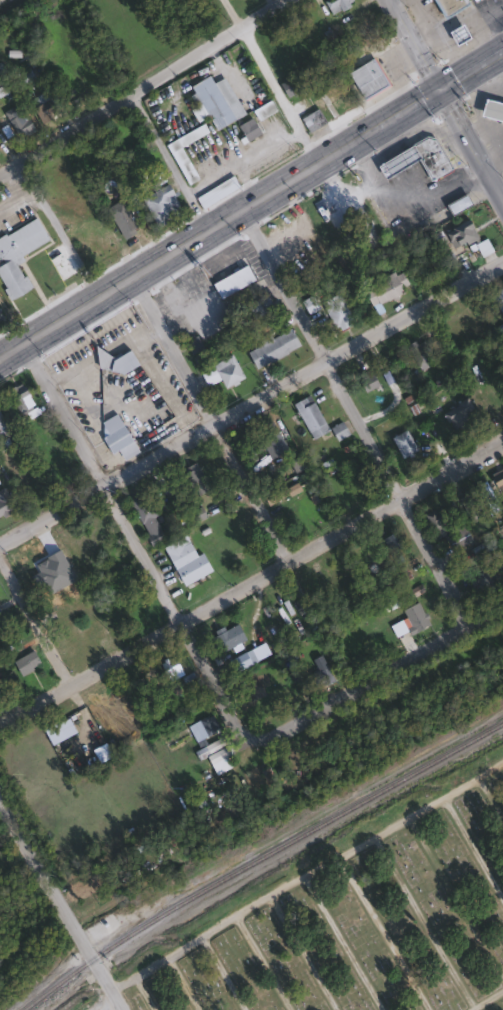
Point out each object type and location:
building: (470, 0)
park: (5, 3)
building: (336, 5)
building: (448, 5)
road: (414, 43)
building: (364, 78)
road: (270, 80)
building: (293, 82)
road: (141, 87)
building: (214, 100)
building: (41, 106)
building: (262, 109)
building: (491, 110)
building: (311, 119)
building: (19, 124)
building: (247, 128)
road: (471, 143)
building: (418, 157)
road: (168, 162)
building: (180, 162)
building: (215, 190)
road: (339, 193)
road: (405, 200)
road: (251, 201)
building: (456, 203)
building: (159, 205)
building: (121, 218)
road: (59, 229)
building: (459, 233)
building: (17, 253)
building: (231, 281)
building: (381, 289)
building: (498, 299)
building: (258, 307)
building: (336, 311)
building: (271, 347)
road: (104, 356)
building: (420, 357)
building: (114, 361)
building: (219, 372)
building: (366, 380)
building: (20, 400)
road: (251, 400)
road: (354, 415)
building: (459, 415)
road: (210, 416)
building: (308, 416)
building: (1, 423)
building: (337, 430)
building: (112, 433)
building: (258, 441)
building: (191, 479)
building: (476, 501)
building: (4, 502)
building: (441, 515)
building: (145, 517)
road: (133, 538)
building: (389, 545)
building: (481, 550)
building: (184, 561)
building: (483, 579)
road: (250, 580)
road: (34, 622)
building: (227, 637)
building: (247, 657)
building: (24, 662)
building: (167, 669)
building: (322, 675)
road: (375, 676)
building: (0, 694)
building: (200, 728)
building: (216, 753)
road: (491, 797)
road: (420, 810)
road: (474, 848)
railway: (257, 857)
road: (286, 885)
road: (456, 897)
road: (61, 908)
road: (372, 916)
park: (358, 919)
road: (422, 921)
road: (206, 931)
road: (292, 934)
road: (342, 942)
road: (254, 952)
road: (212, 954)
road: (171, 967)
road: (122, 983)
road: (143, 994)
road: (485, 998)
road: (118, 1008)
road: (473, 1008)

